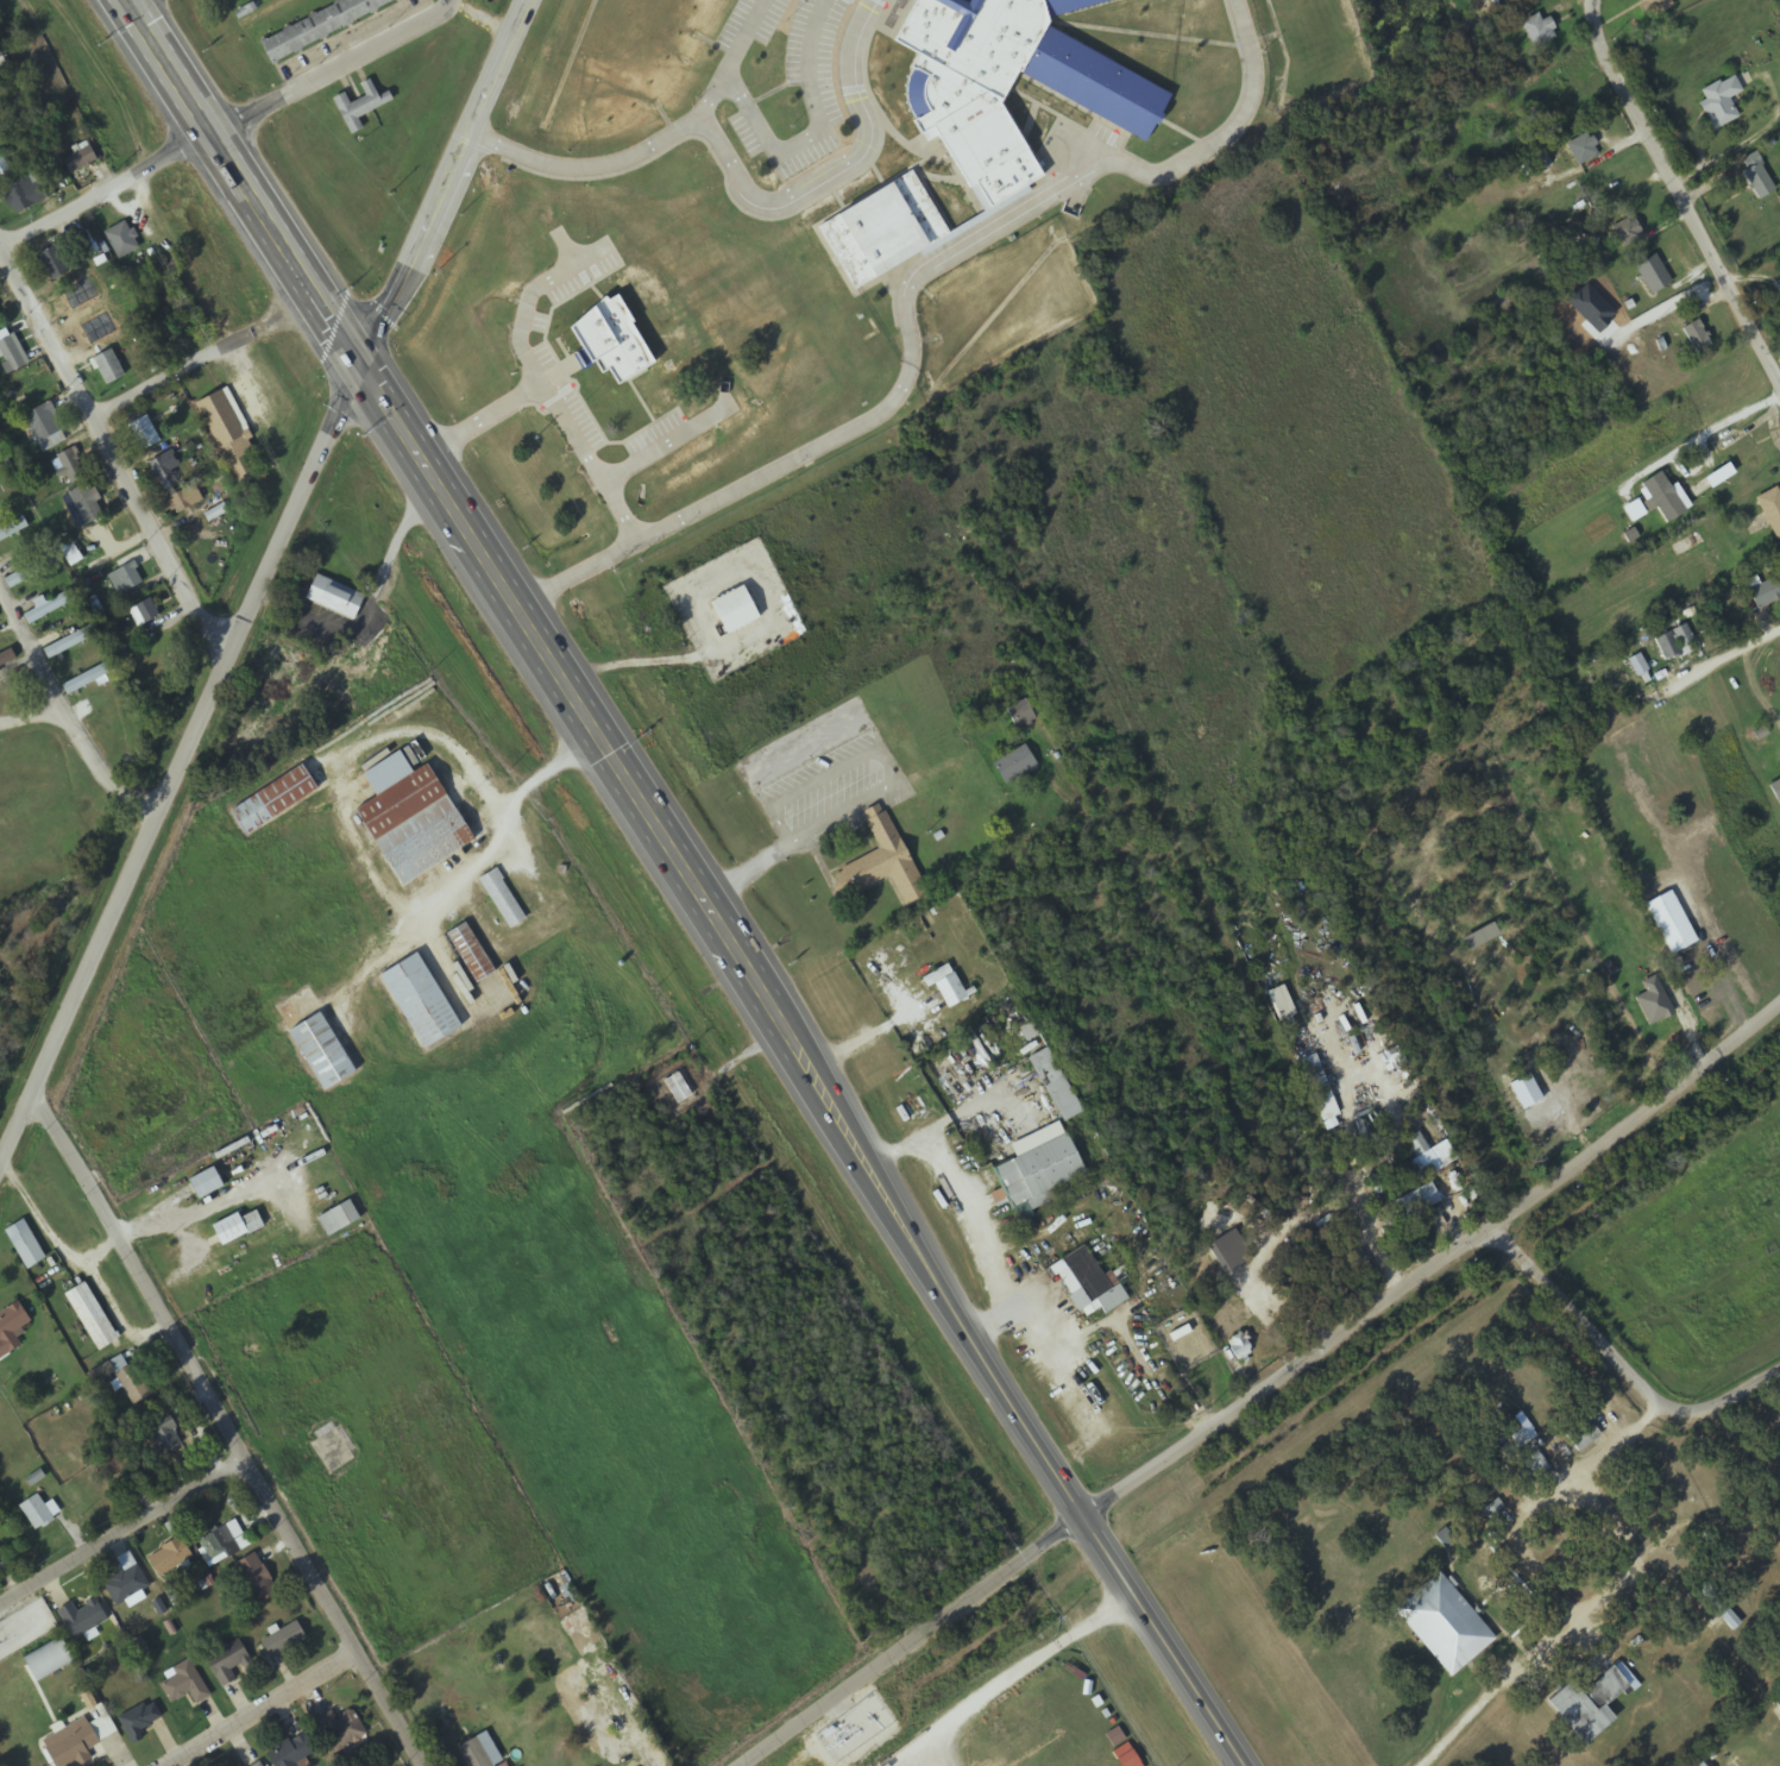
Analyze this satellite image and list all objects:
road: (121, 0)
building: (228, 0)
building: (252, 0)
building: (1655, 6)
building: (321, 26)
building: (1537, 31)
road: (743, 59)
building: (1024, 86)
building: (1719, 102)
building: (360, 107)
road: (234, 127)
road: (830, 134)
building: (1580, 150)
building: (81, 162)
road: (750, 177)
building: (1756, 177)
road: (243, 186)
road: (453, 186)
road: (1679, 187)
building: (27, 195)
building: (654, 209)
building: (1628, 231)
building: (898, 234)
building: (124, 241)
building: (54, 265)
building: (1652, 275)
road: (914, 307)
building: (1, 323)
building: (1696, 337)
building: (627, 347)
building: (10, 358)
road: (203, 360)
building: (109, 369)
traffic signals: (367, 371)
road: (554, 384)
road: (489, 422)
building: (46, 428)
building: (144, 434)
building: (229, 435)
road: (681, 446)
building: (1, 452)
road: (111, 454)
building: (71, 467)
building: (163, 473)
building: (2, 491)
building: (189, 496)
building: (87, 504)
building: (668, 504)
building: (1770, 510)
building: (13, 529)
building: (32, 571)
building: (130, 579)
building: (1762, 590)
building: (347, 602)
building: (50, 608)
building: (732, 610)
building: (144, 614)
building: (69, 643)
building: (1673, 643)
building: (7, 659)
building: (1636, 665)
building: (89, 678)
road: (568, 693)
building: (1020, 714)
road: (27, 718)
road: (67, 723)
building: (1014, 765)
road: (185, 767)
building: (1775, 790)
building: (273, 798)
building: (410, 817)
building: (887, 861)
building: (501, 895)
building: (470, 950)
building: (948, 986)
building: (420, 999)
building: (1281, 1004)
building: (321, 1049)
building: (1053, 1085)
building: (679, 1088)
building: (1319, 1088)
road: (1642, 1120)
building: (1426, 1158)
building: (1037, 1171)
building: (207, 1184)
building: (1414, 1202)
building: (340, 1220)
building: (239, 1227)
building: (24, 1242)
road: (137, 1276)
building: (1084, 1283)
building: (92, 1314)
building: (11, 1326)
building: (1238, 1347)
road: (1621, 1368)
road: (1290, 1372)
building: (131, 1382)
road: (1005, 1391)
railway: (1315, 1428)
building: (163, 1432)
building: (1581, 1435)
building: (114, 1464)
building: (38, 1509)
road: (120, 1535)
building: (222, 1540)
building: (1445, 1540)
building: (170, 1556)
building: (254, 1576)
building: (127, 1579)
building: (558, 1590)
road: (331, 1614)
building: (82, 1617)
building: (1444, 1624)
building: (282, 1636)
road: (916, 1642)
building: (48, 1658)
building: (226, 1659)
building: (183, 1682)
building: (1778, 1702)
building: (1587, 1705)
road: (259, 1709)
building: (138, 1718)
building: (339, 1727)
building: (80, 1741)
building: (291, 1751)
building: (478, 1751)
building: (1694, 1762)
building: (256, 1764)
building: (240, 1765)

